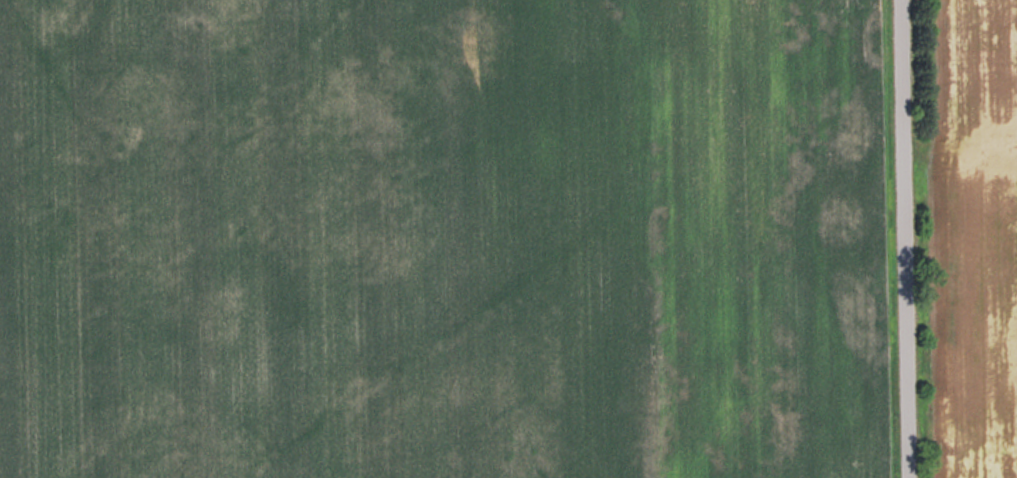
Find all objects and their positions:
road: (909, 239)

